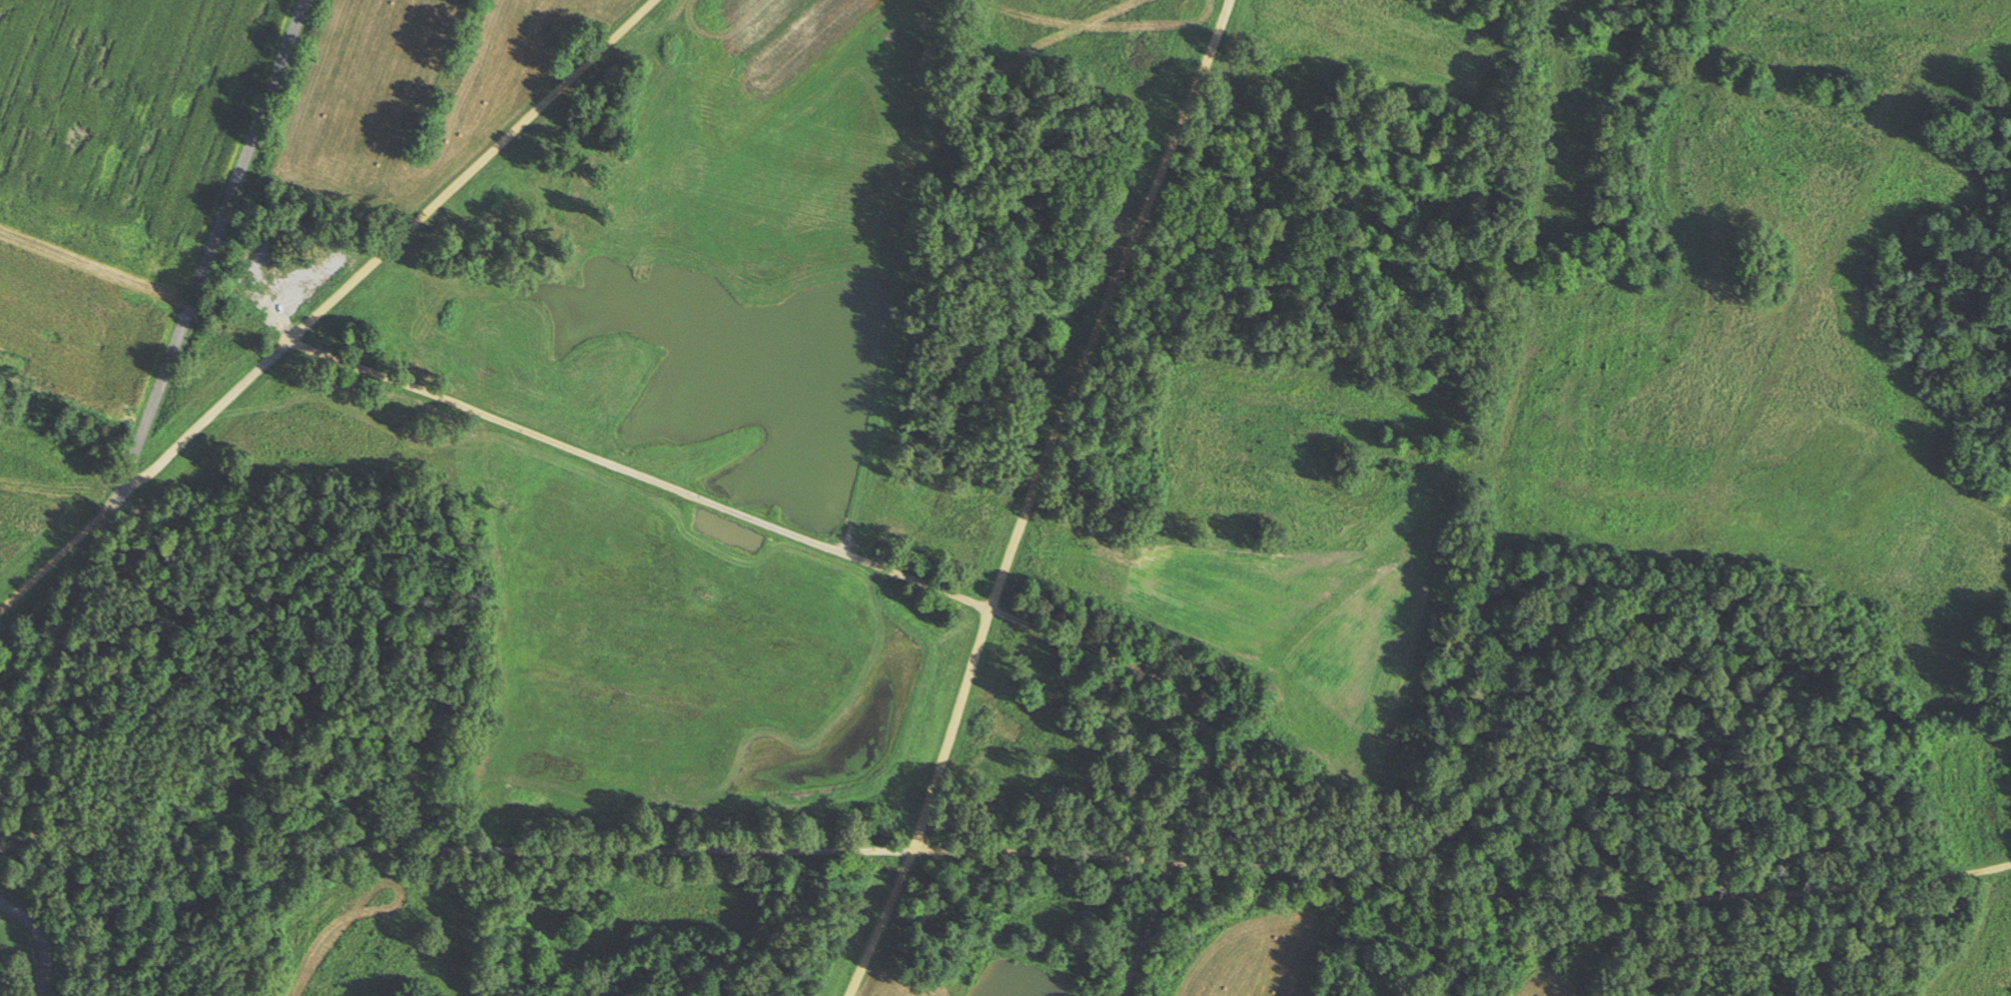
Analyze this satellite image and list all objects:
road: (469, 172)
road: (154, 404)
road: (202, 420)
road: (1032, 494)
road: (56, 556)
road: (882, 573)
road: (1007, 857)
road: (42, 938)

